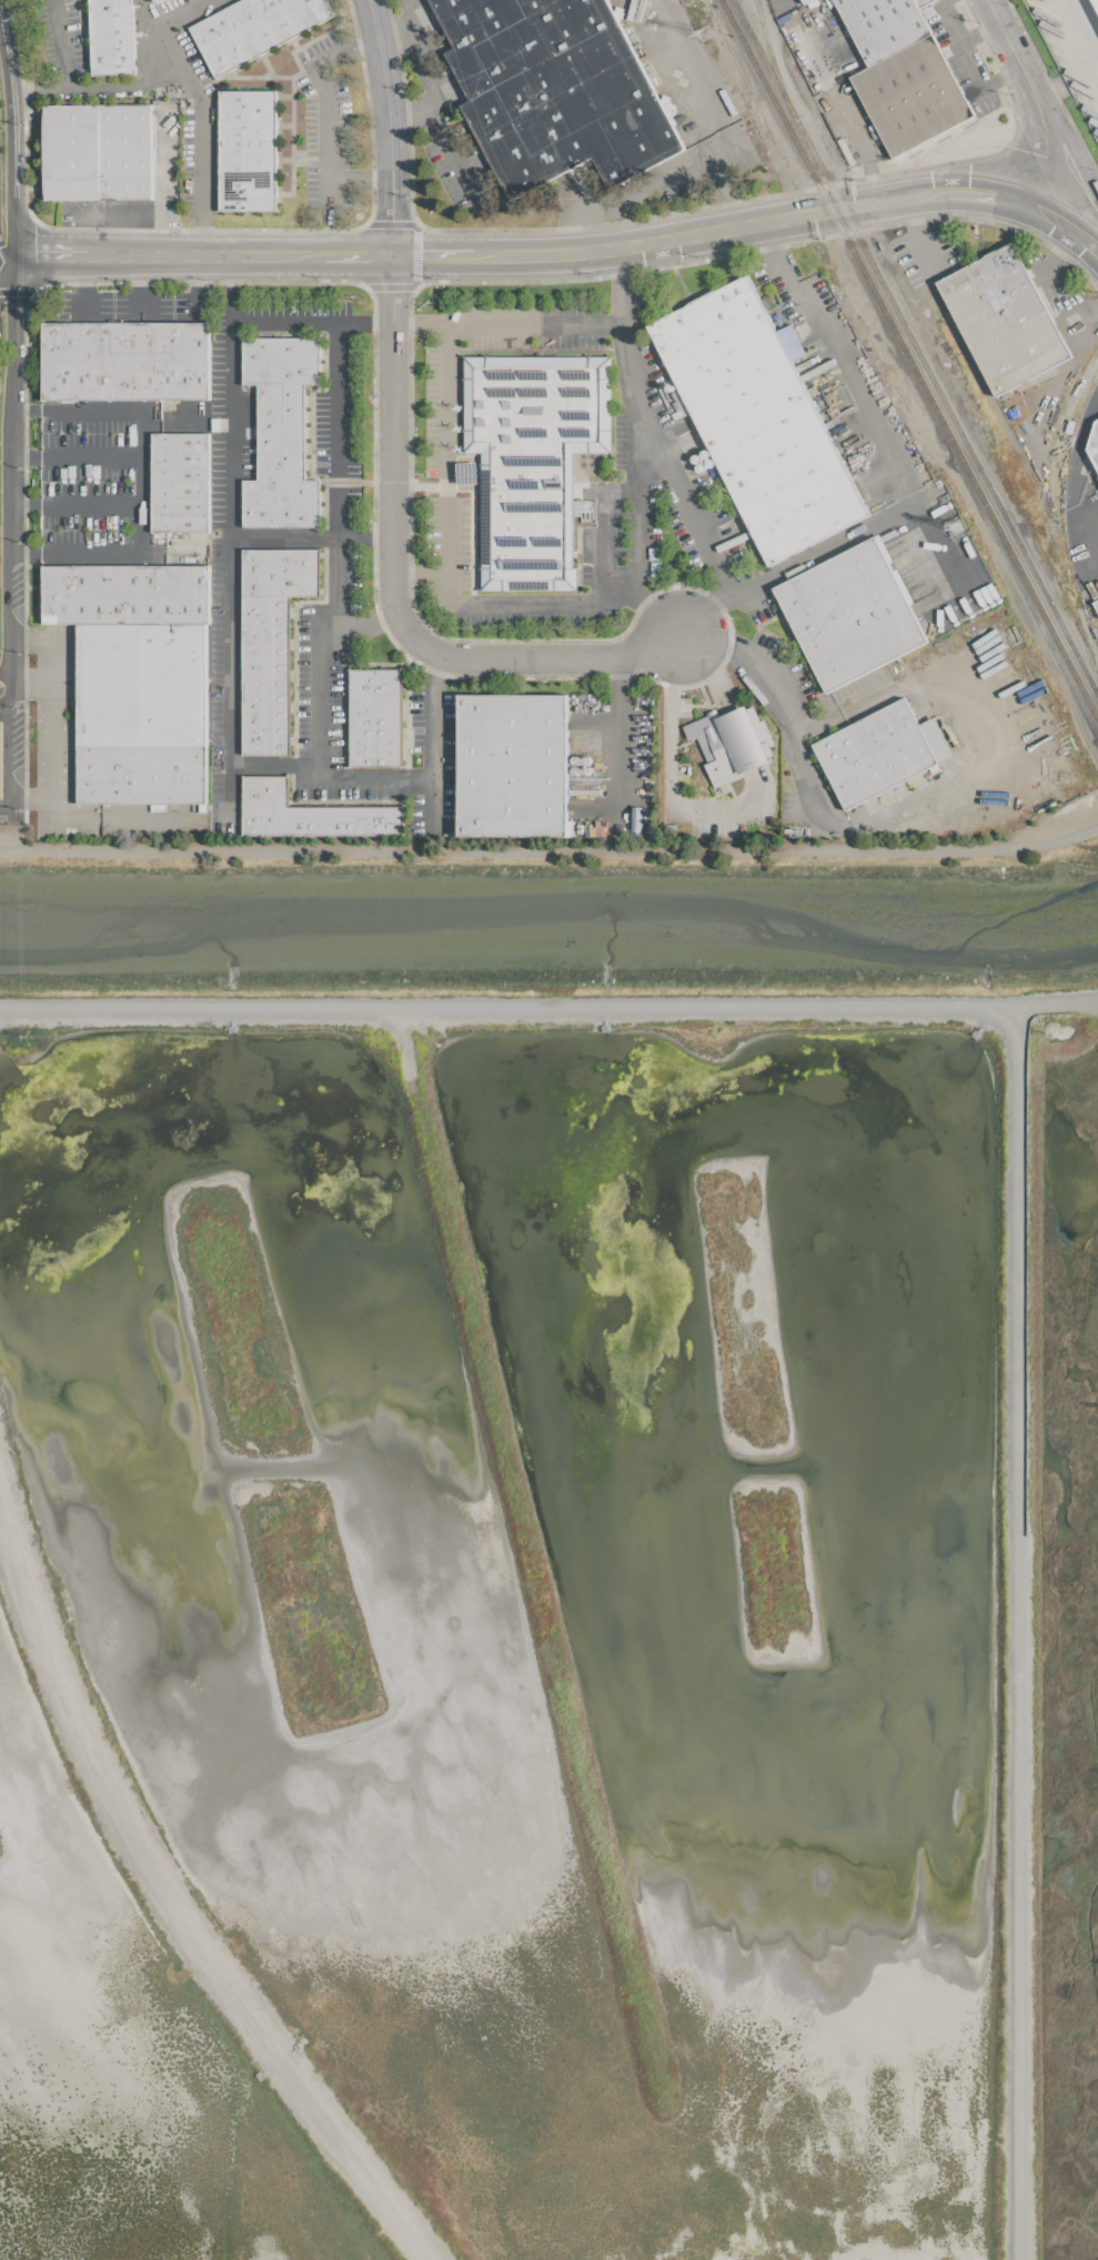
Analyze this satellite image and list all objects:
building: (152, 0)
building: (803, 1)
road: (936, 2)
building: (1096, 2)
building: (253, 28)
road: (1082, 30)
power tower: (708, 32)
road: (393, 33)
road: (970, 36)
building: (111, 37)
road: (62, 43)
railway: (768, 47)
road: (344, 52)
building: (901, 72)
road: (991, 81)
road: (93, 89)
building: (552, 89)
road: (431, 100)
road: (1031, 100)
road: (410, 111)
road: (325, 122)
road: (198, 133)
road: (10, 148)
building: (246, 151)
building: (97, 152)
road: (359, 180)
road: (158, 182)
road: (636, 193)
road: (987, 201)
road: (905, 210)
road: (711, 226)
road: (1065, 228)
road: (923, 248)
road: (433, 252)
road: (203, 253)
road: (351, 253)
road: (6, 254)
road: (53, 254)
road: (1054, 254)
road: (7, 263)
road: (75, 283)
road: (135, 284)
road: (1077, 313)
building: (1006, 319)
road: (547, 324)
railway: (916, 347)
railway: (909, 360)
building: (124, 361)
road: (1090, 402)
road: (8, 404)
road: (865, 406)
building: (755, 418)
road: (335, 428)
road: (229, 432)
building: (280, 432)
railway: (1007, 434)
building: (1094, 444)
road: (72, 456)
road: (393, 456)
building: (532, 460)
road: (138, 482)
building: (179, 483)
road: (72, 506)
railway: (1058, 518)
power tower: (954, 525)
road: (641, 543)
road: (711, 553)
road: (1095, 567)
road: (419, 569)
road: (541, 602)
road: (645, 605)
building: (849, 614)
road: (8, 624)
road: (370, 626)
building: (270, 642)
road: (226, 664)
building: (135, 679)
road: (3, 694)
building: (373, 717)
road: (617, 727)
building: (731, 743)
road: (7, 751)
building: (879, 751)
road: (667, 759)
building: (512, 766)
road: (319, 779)
road: (927, 795)
road: (29, 796)
road: (51, 809)
road: (3, 810)
building: (308, 814)
building: (641, 821)

